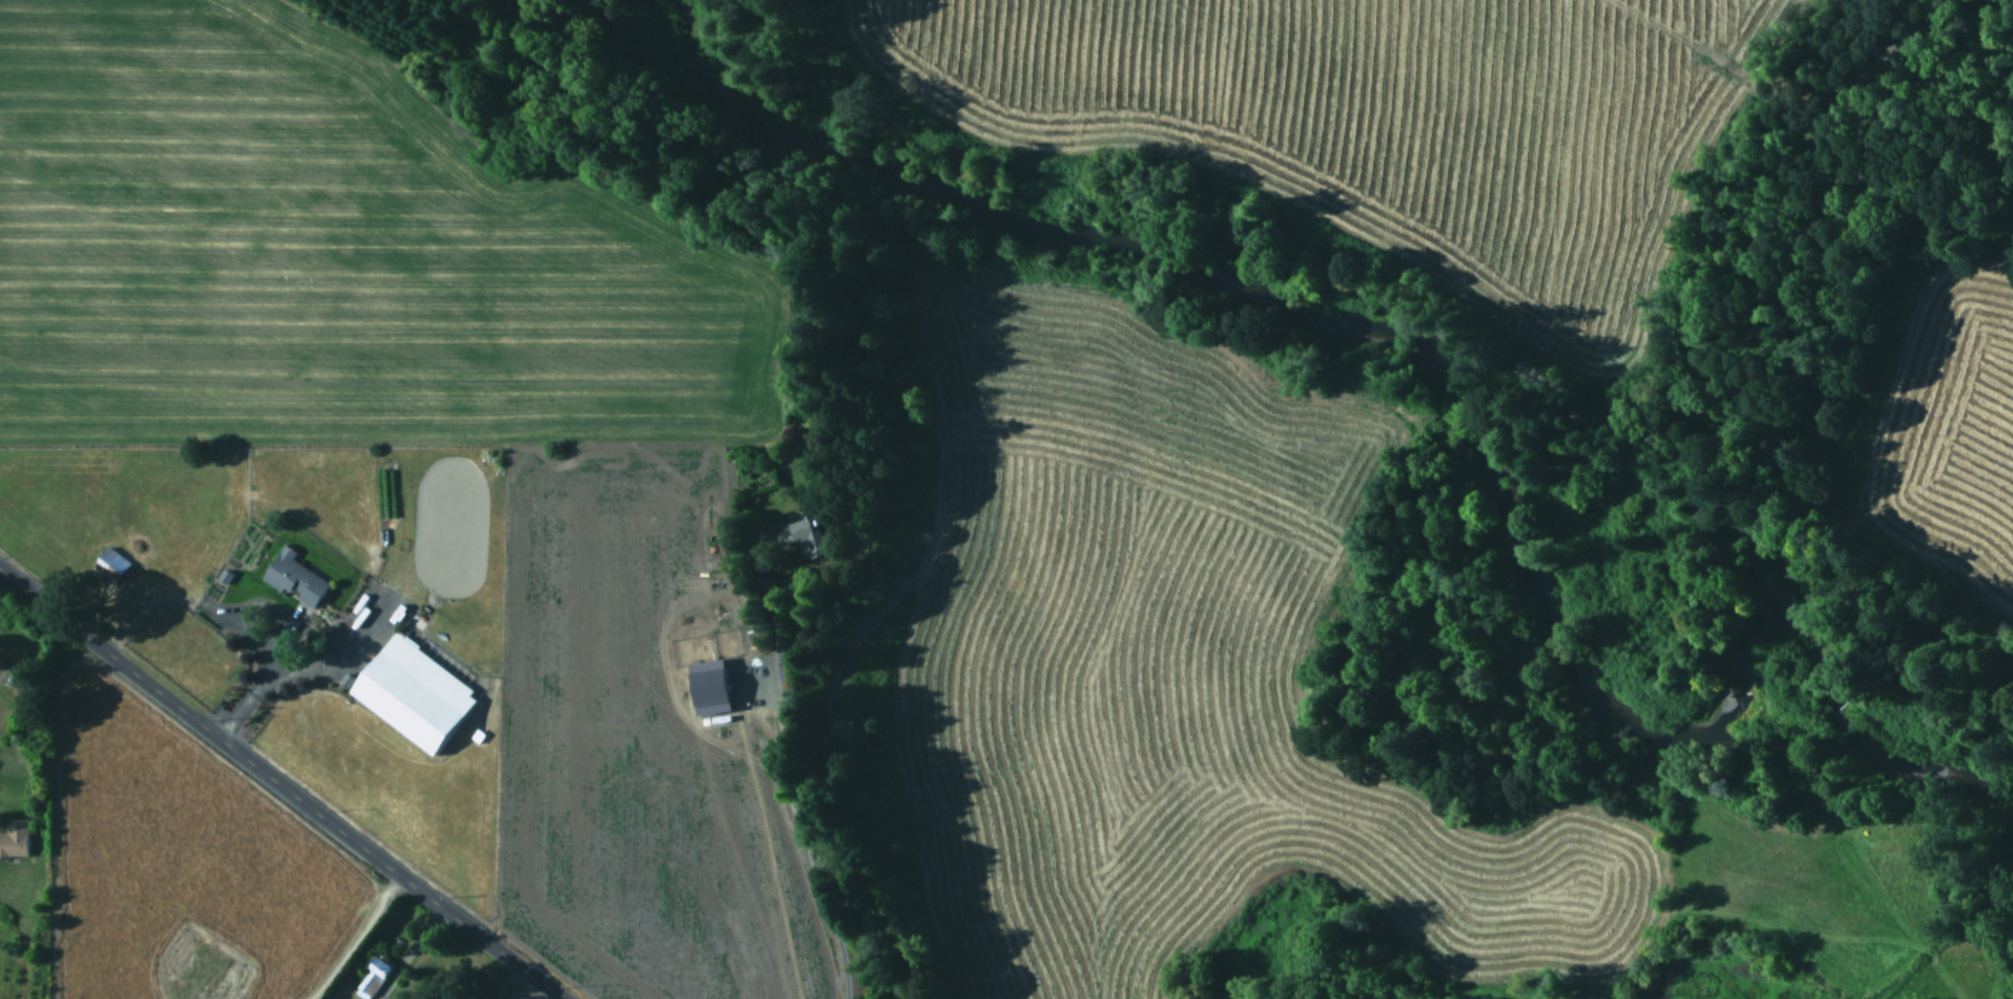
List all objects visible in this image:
crop: (1367, 116)
river: (1410, 341)
road: (1897, 360)
crop: (1949, 440)
crop: (402, 466)
building: (814, 535)
building: (112, 564)
building: (295, 578)
road: (259, 680)
building: (716, 685)
building: (415, 694)
crop: (1249, 709)
road: (797, 779)
road: (280, 786)
building: (15, 838)
crop: (181, 864)
road: (357, 938)
building: (179, 951)
road: (408, 952)
building: (374, 978)
building: (231, 982)

